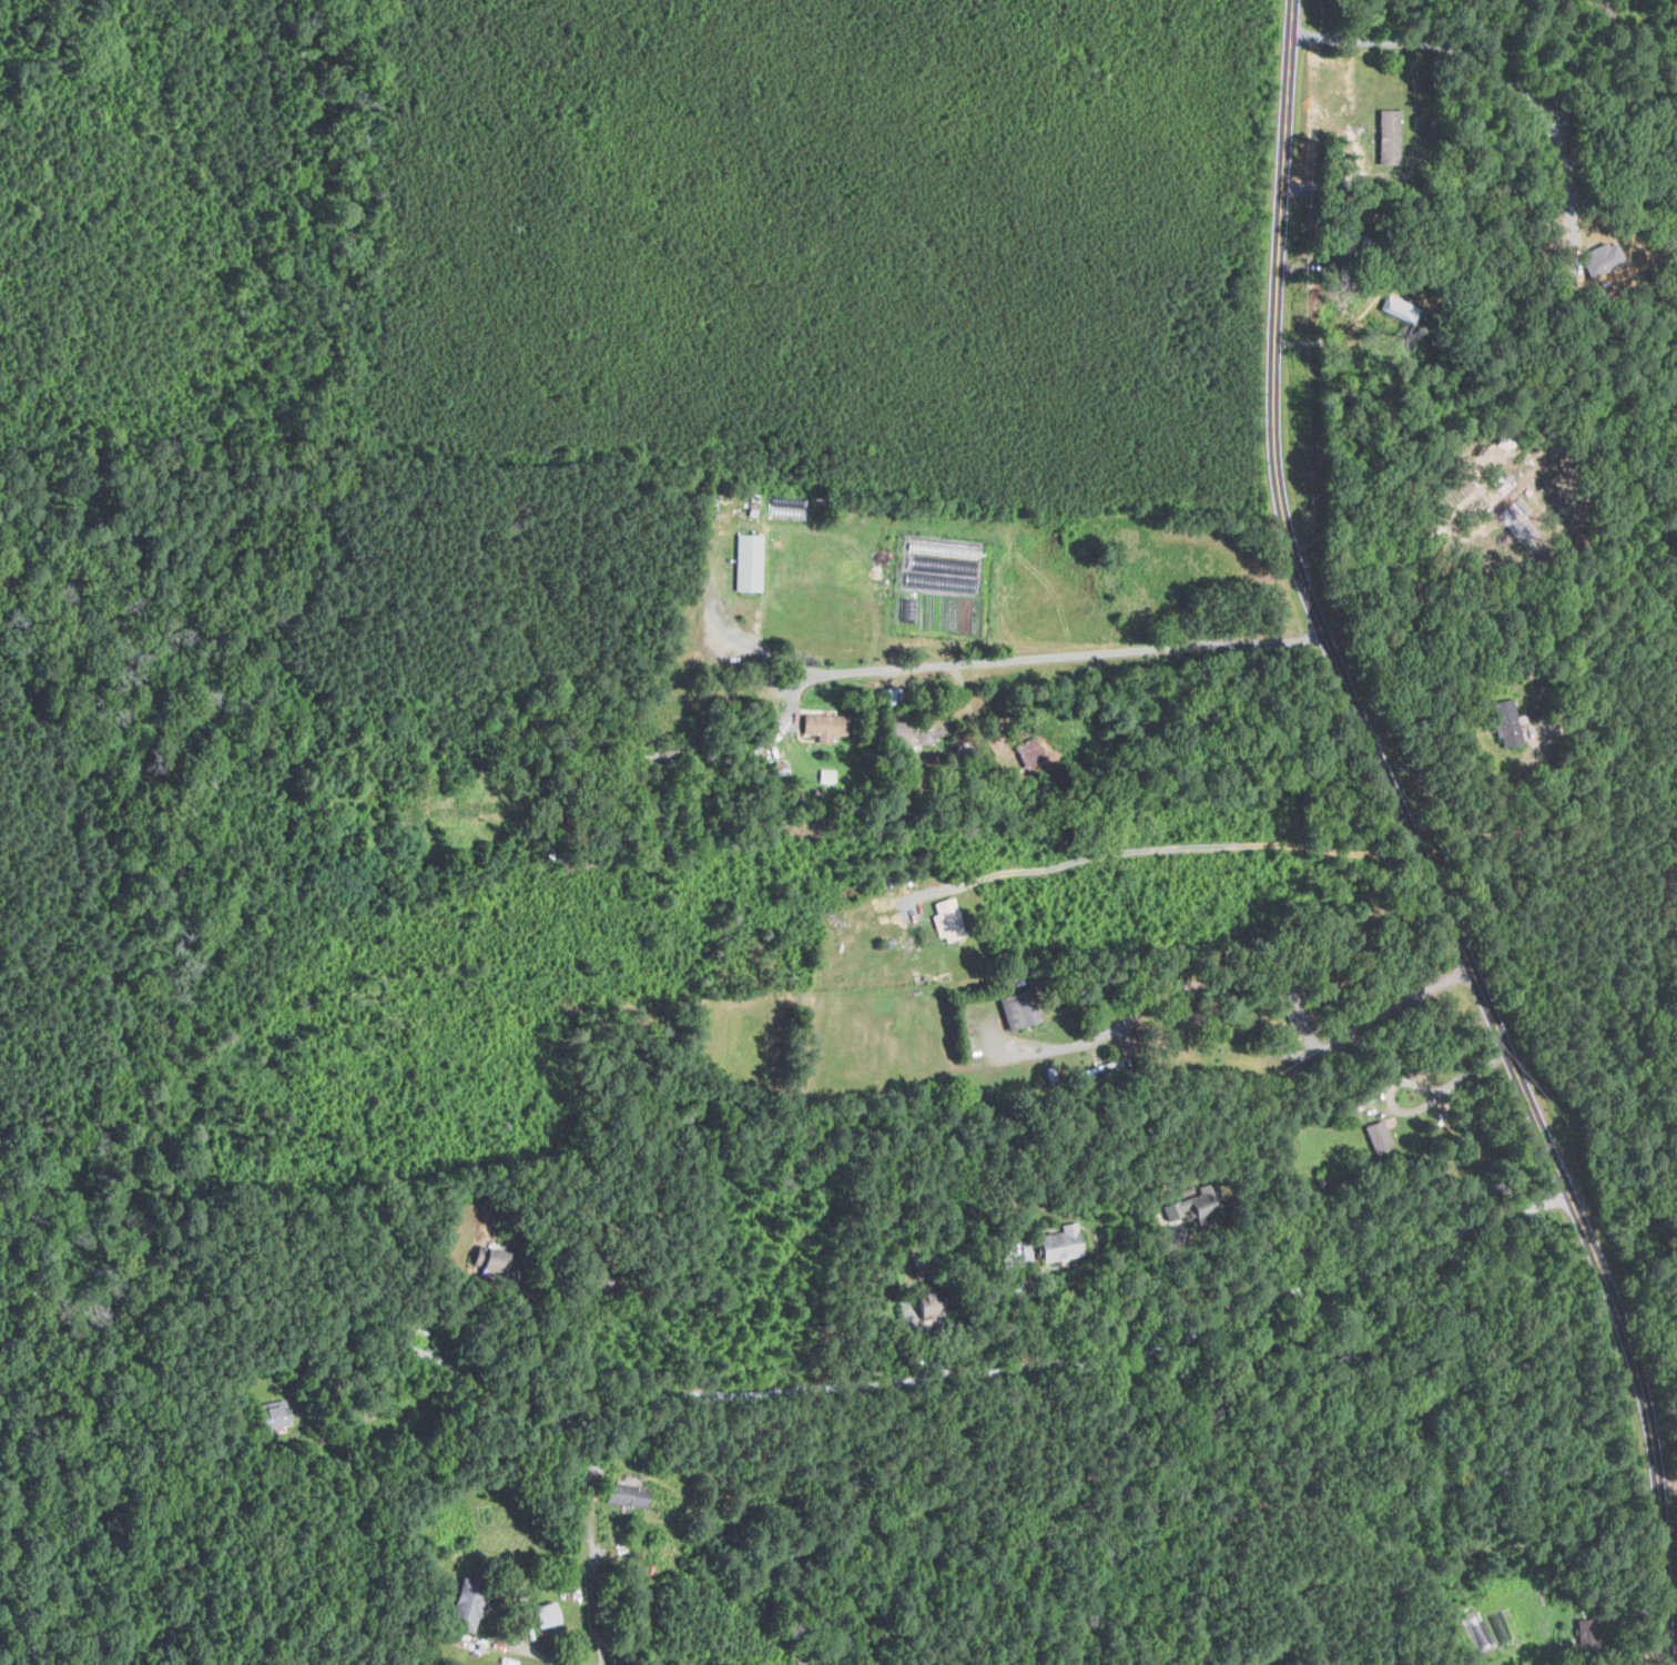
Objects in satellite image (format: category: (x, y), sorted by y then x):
road: (1436, 44)
road: (1593, 62)
building: (1392, 139)
road: (1566, 174)
road: (1349, 181)
building: (1396, 306)
building: (756, 499)
building: (1521, 529)
building: (751, 562)
building: (942, 575)
road: (1051, 656)
building: (830, 727)
building: (1514, 733)
building: (829, 775)
road: (1415, 842)
road: (1176, 847)
building: (952, 920)
building: (1022, 1009)
road: (1067, 1026)
road: (1415, 1082)
building: (1381, 1136)
building: (1066, 1242)
road: (983, 1362)
building: (279, 1414)
building: (631, 1495)
road: (596, 1594)
building: (474, 1602)
building: (553, 1614)
road: (532, 1653)

